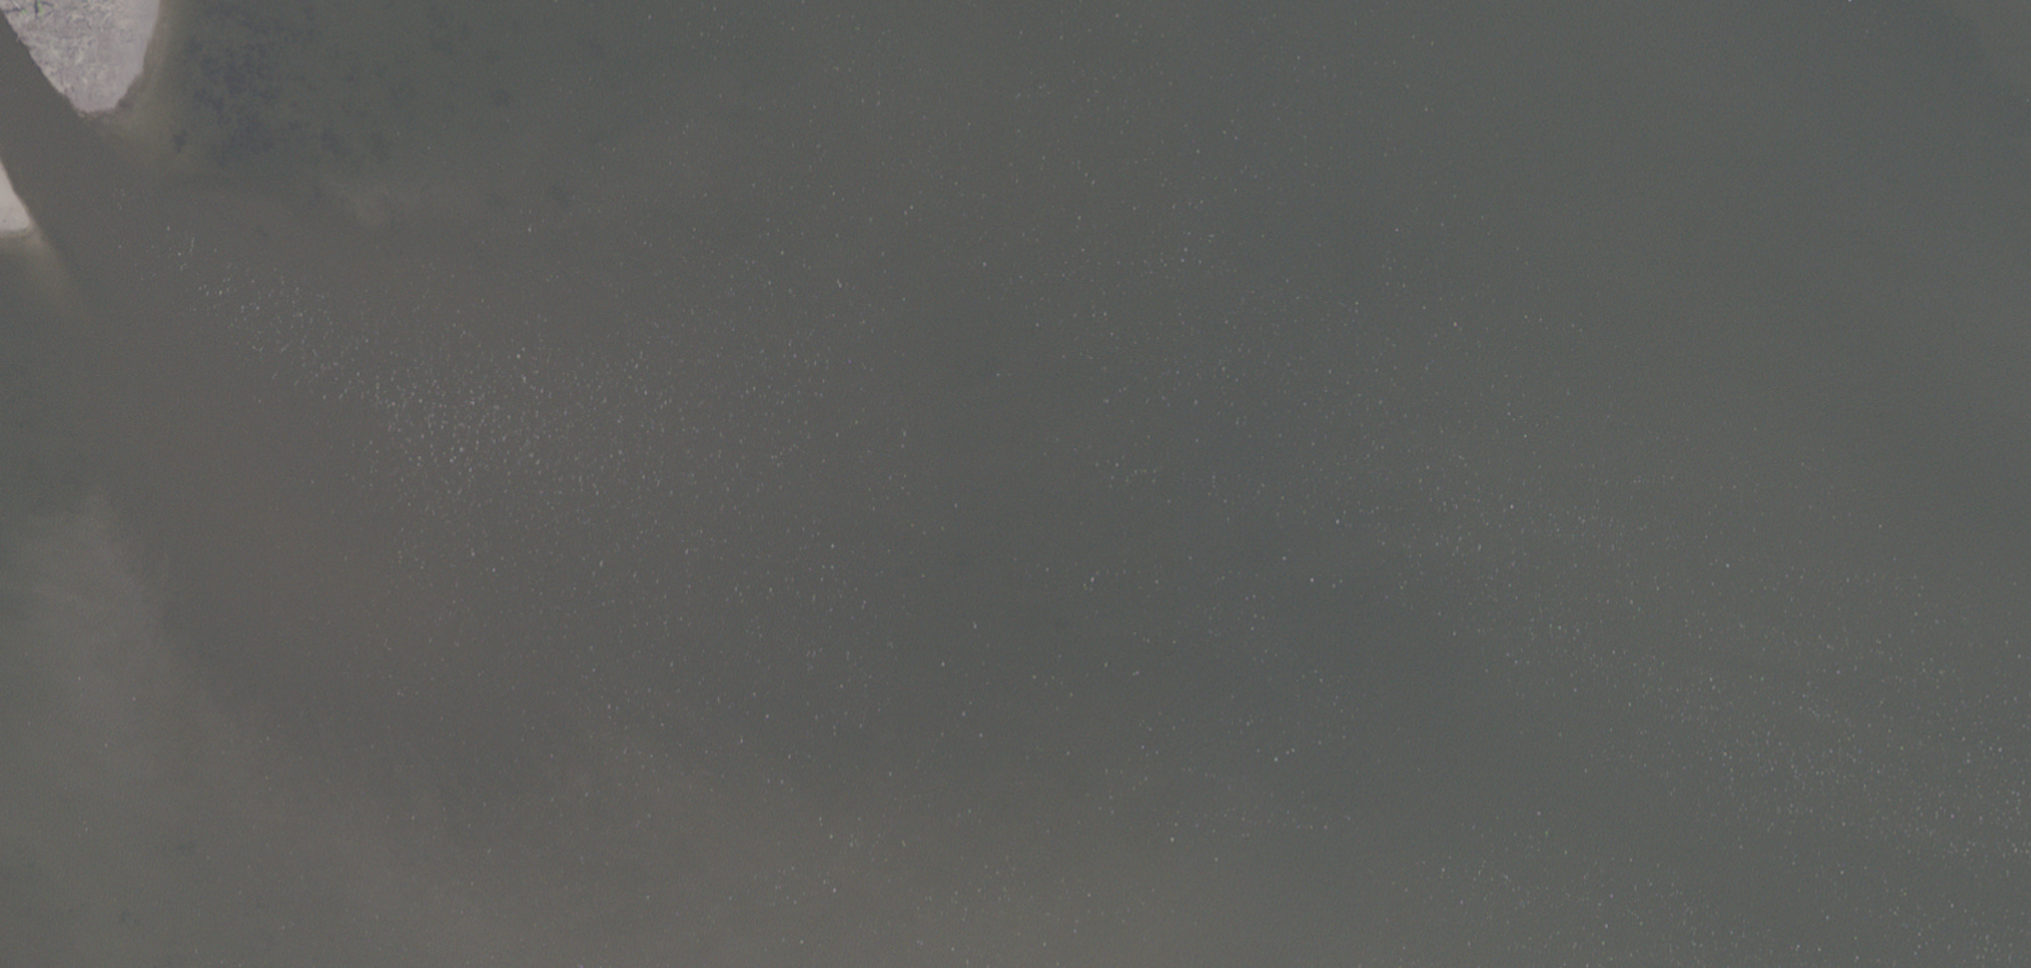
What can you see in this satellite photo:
river: (1302, 221)

